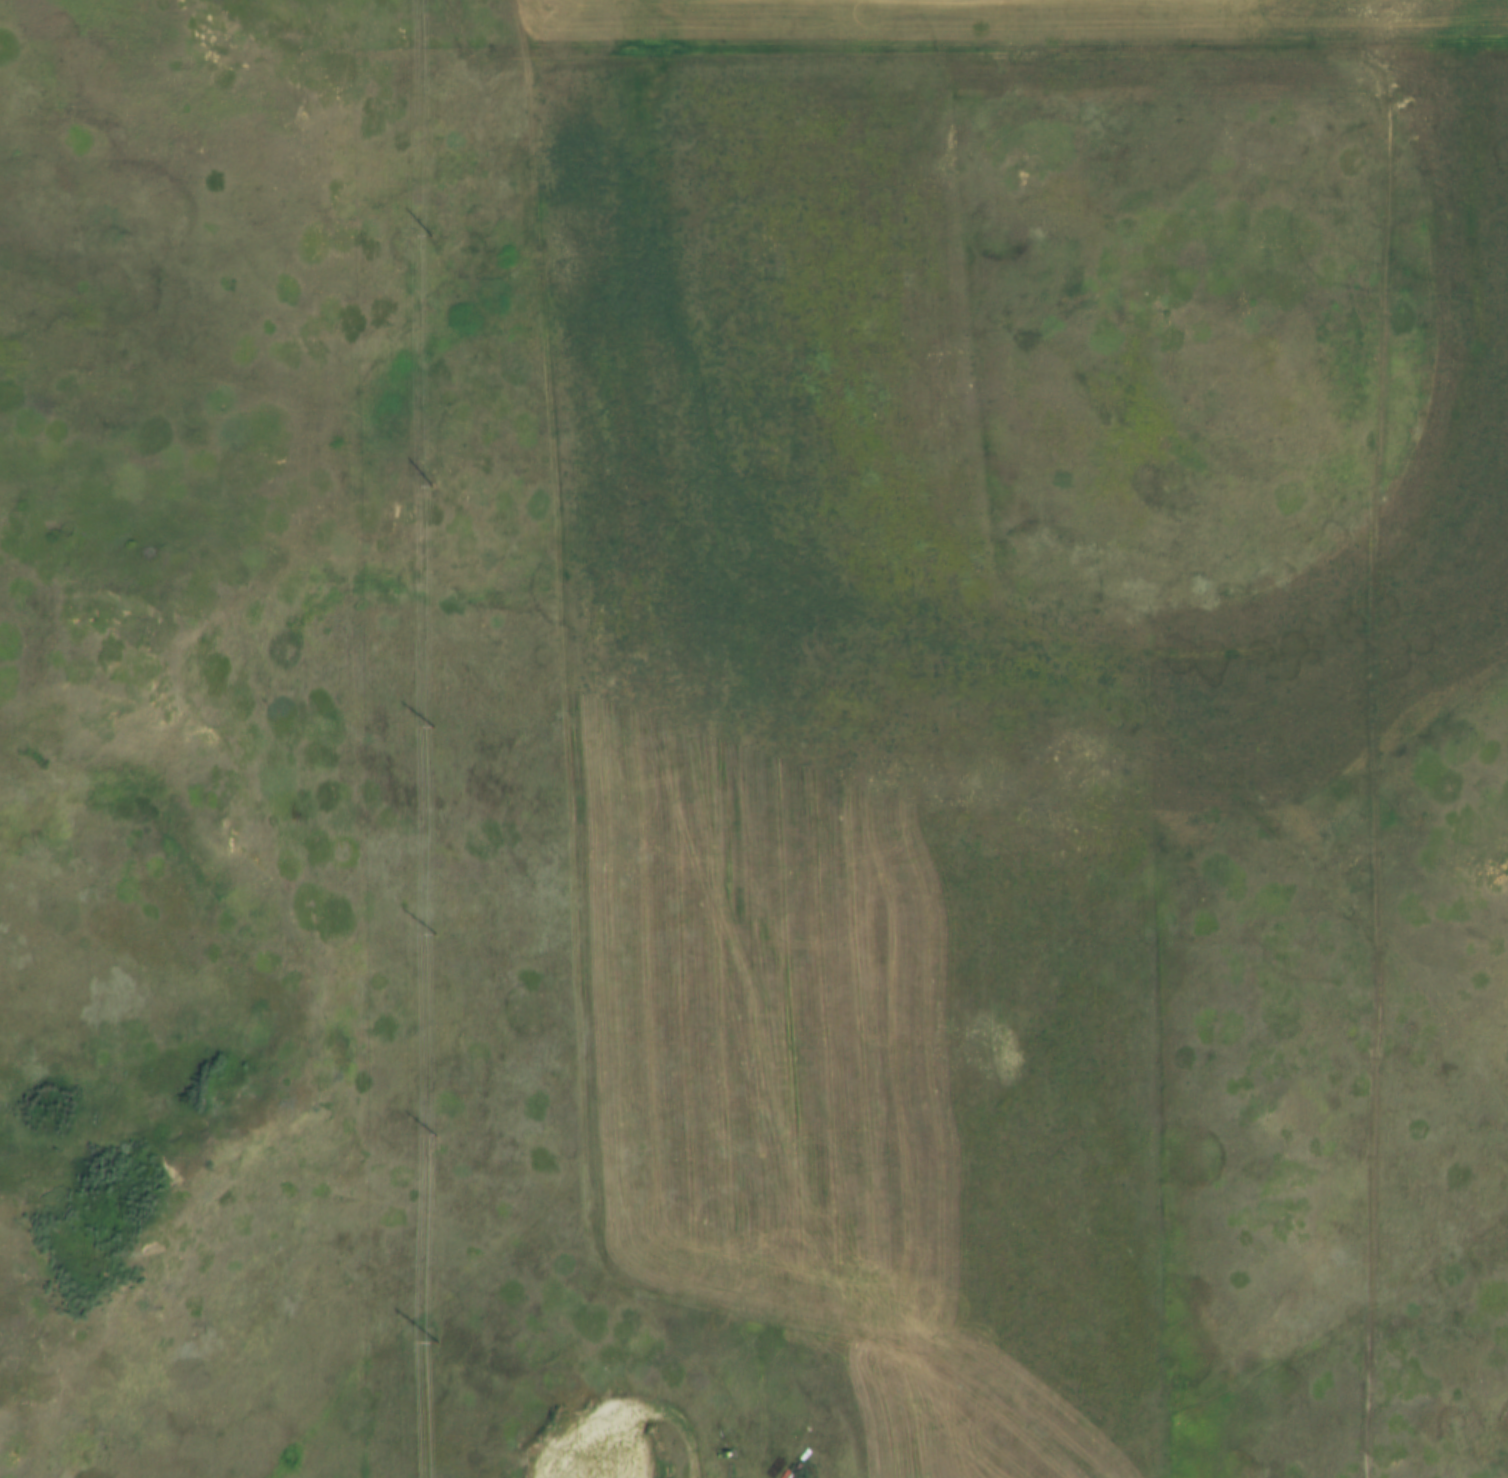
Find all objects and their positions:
road: (576, 915)

